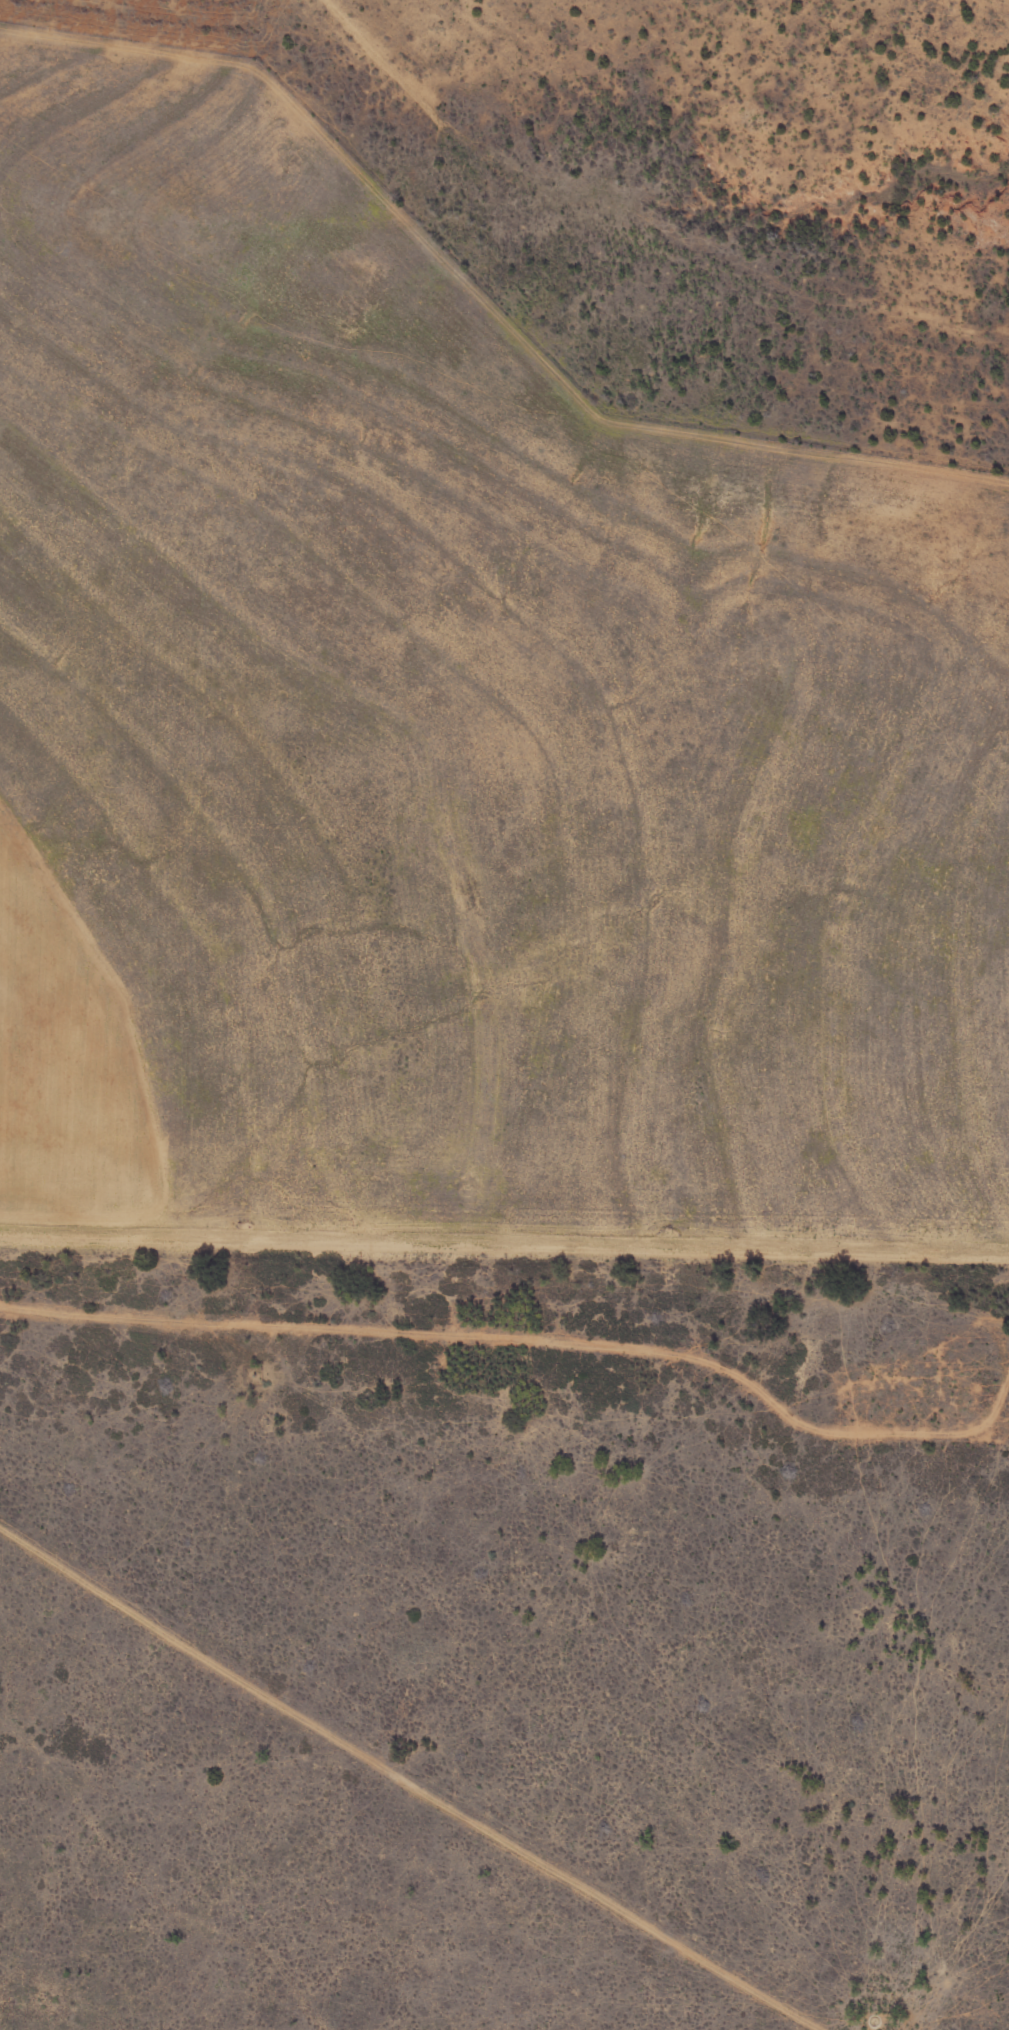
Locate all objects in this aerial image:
road: (622, 248)
road: (509, 1322)
road: (420, 1773)

